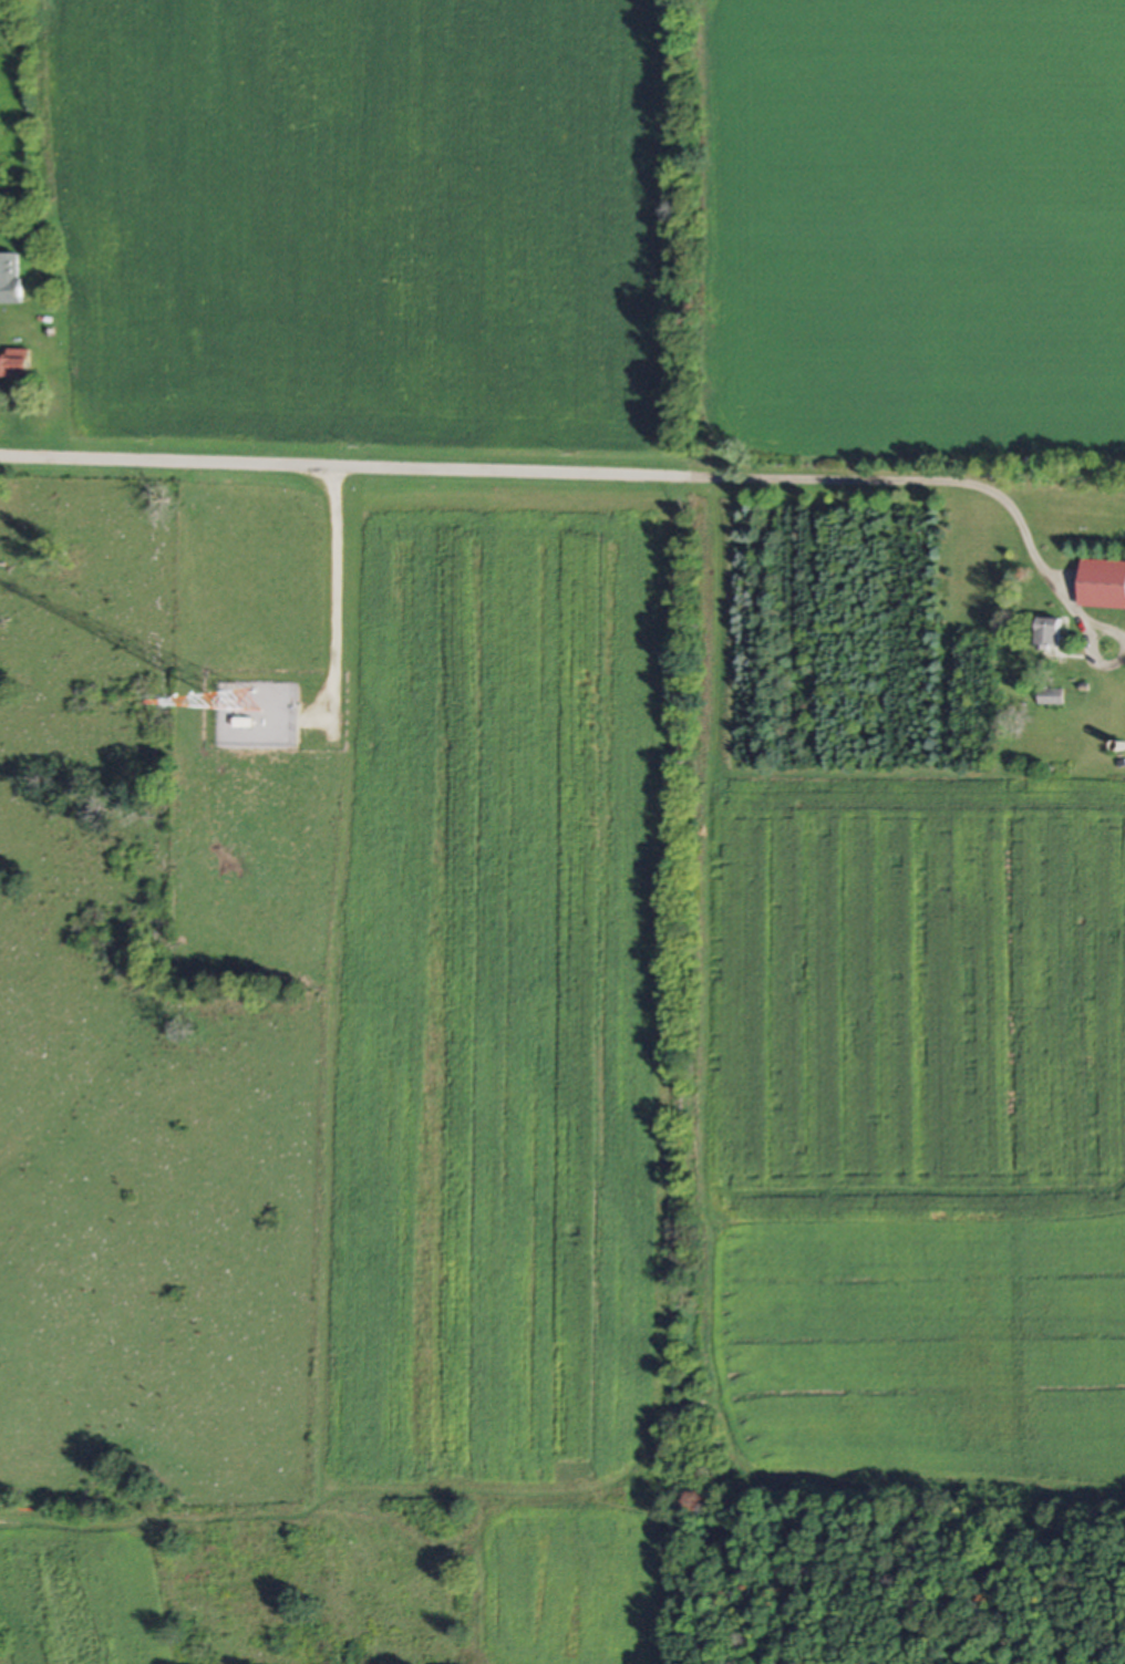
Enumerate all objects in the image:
building: (11, 278)
building: (14, 363)
road: (481, 474)
road: (1036, 556)
building: (1103, 583)
road: (339, 597)
building: (1051, 633)

